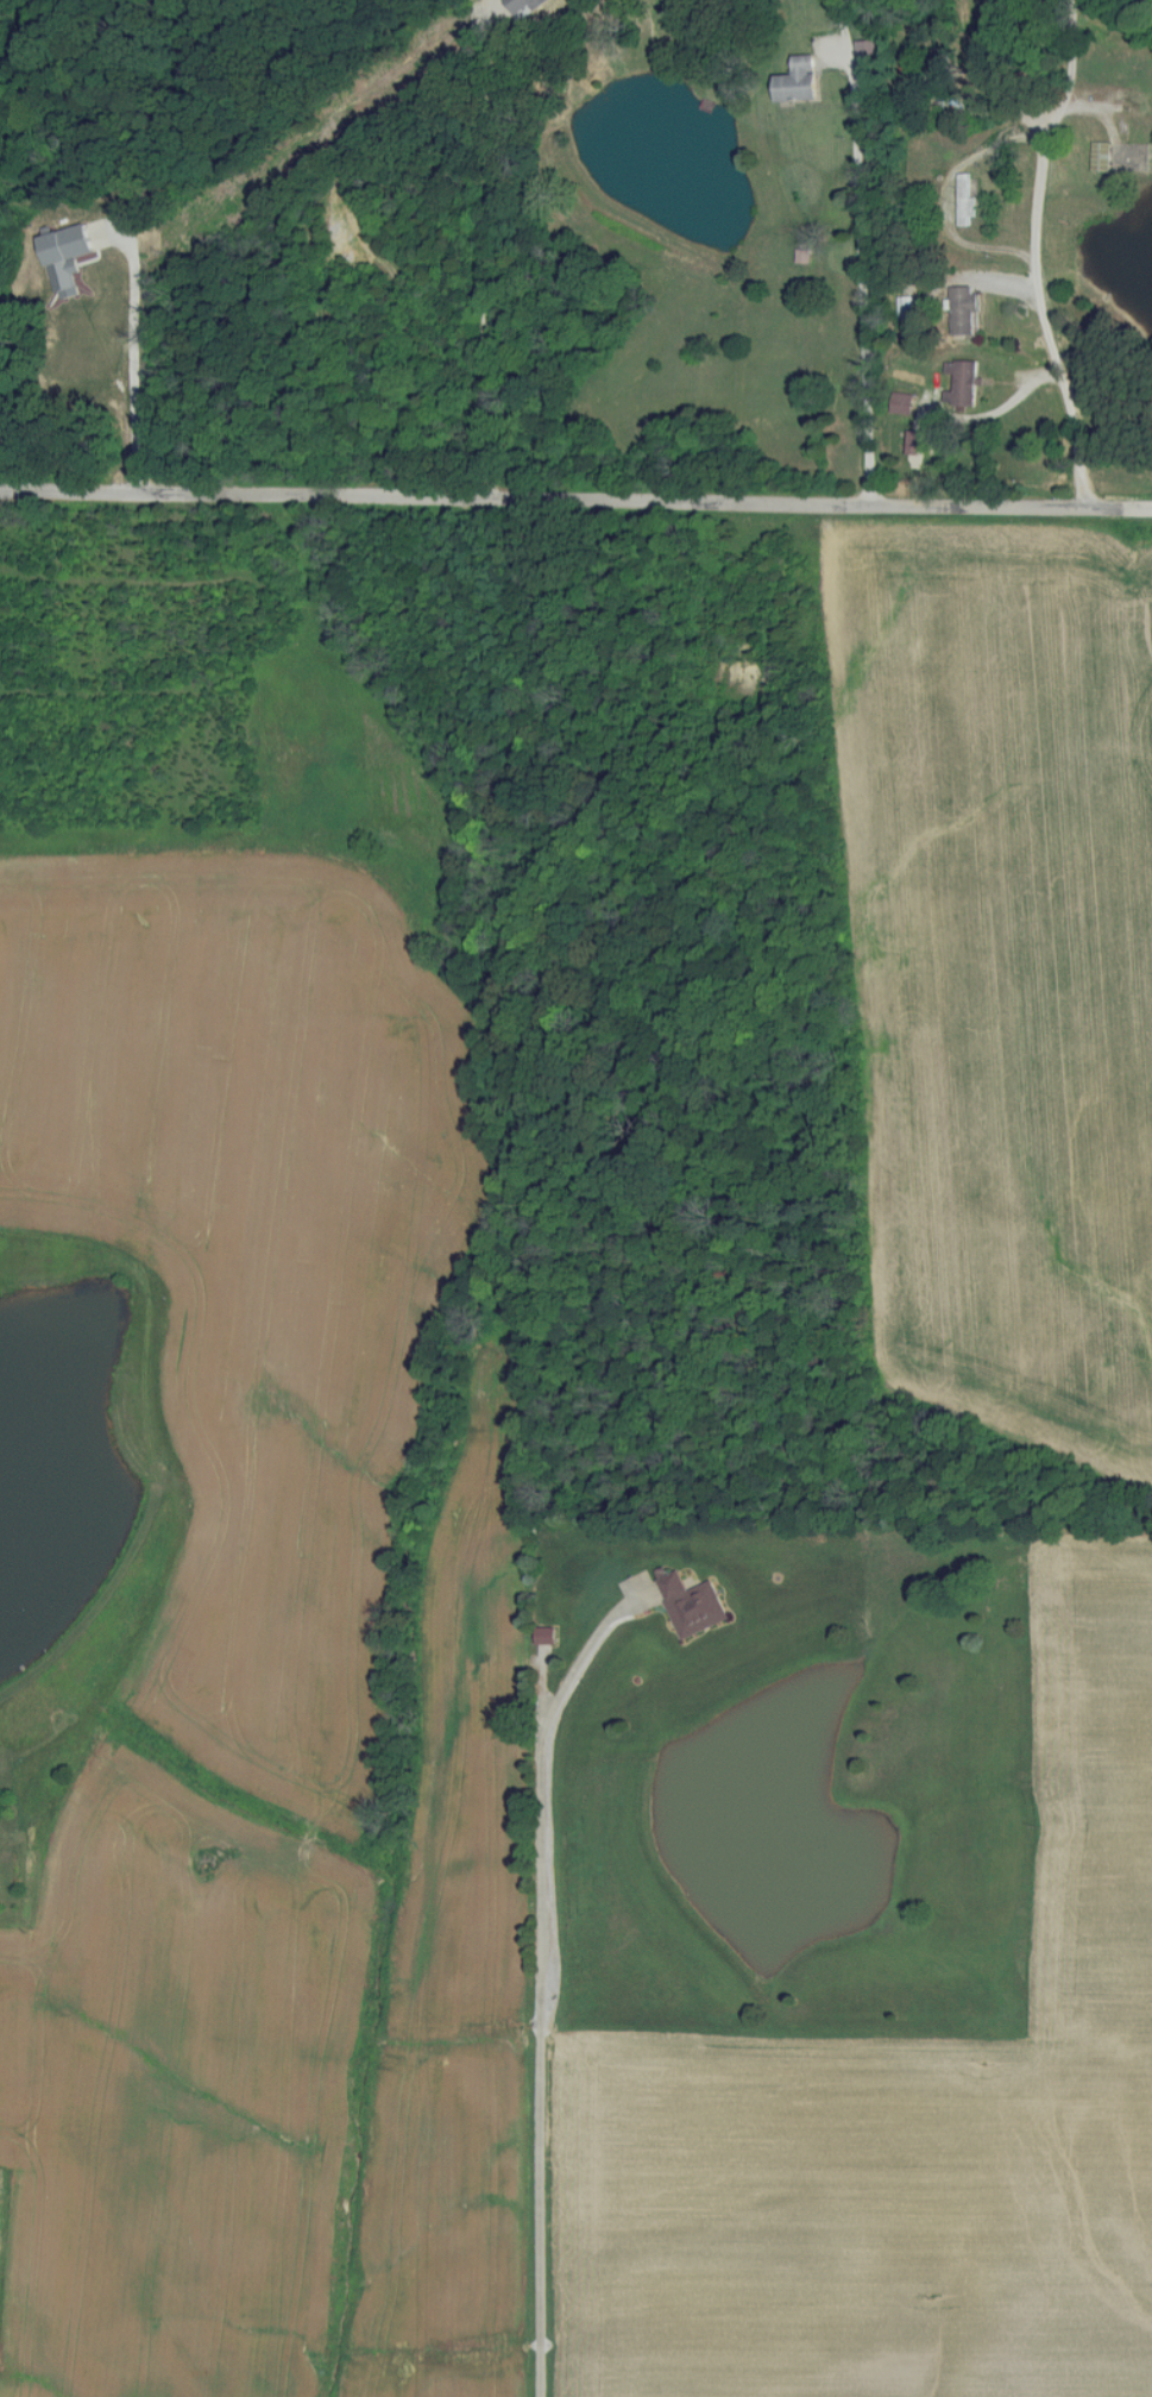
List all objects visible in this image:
building: (524, 7)
building: (939, 73)
building: (799, 80)
building: (1101, 156)
road: (206, 189)
building: (965, 197)
building: (64, 245)
road: (861, 250)
road: (1038, 253)
building: (964, 310)
building: (962, 382)
road: (575, 498)
building: (692, 1605)
building: (546, 1636)
road: (542, 1977)

